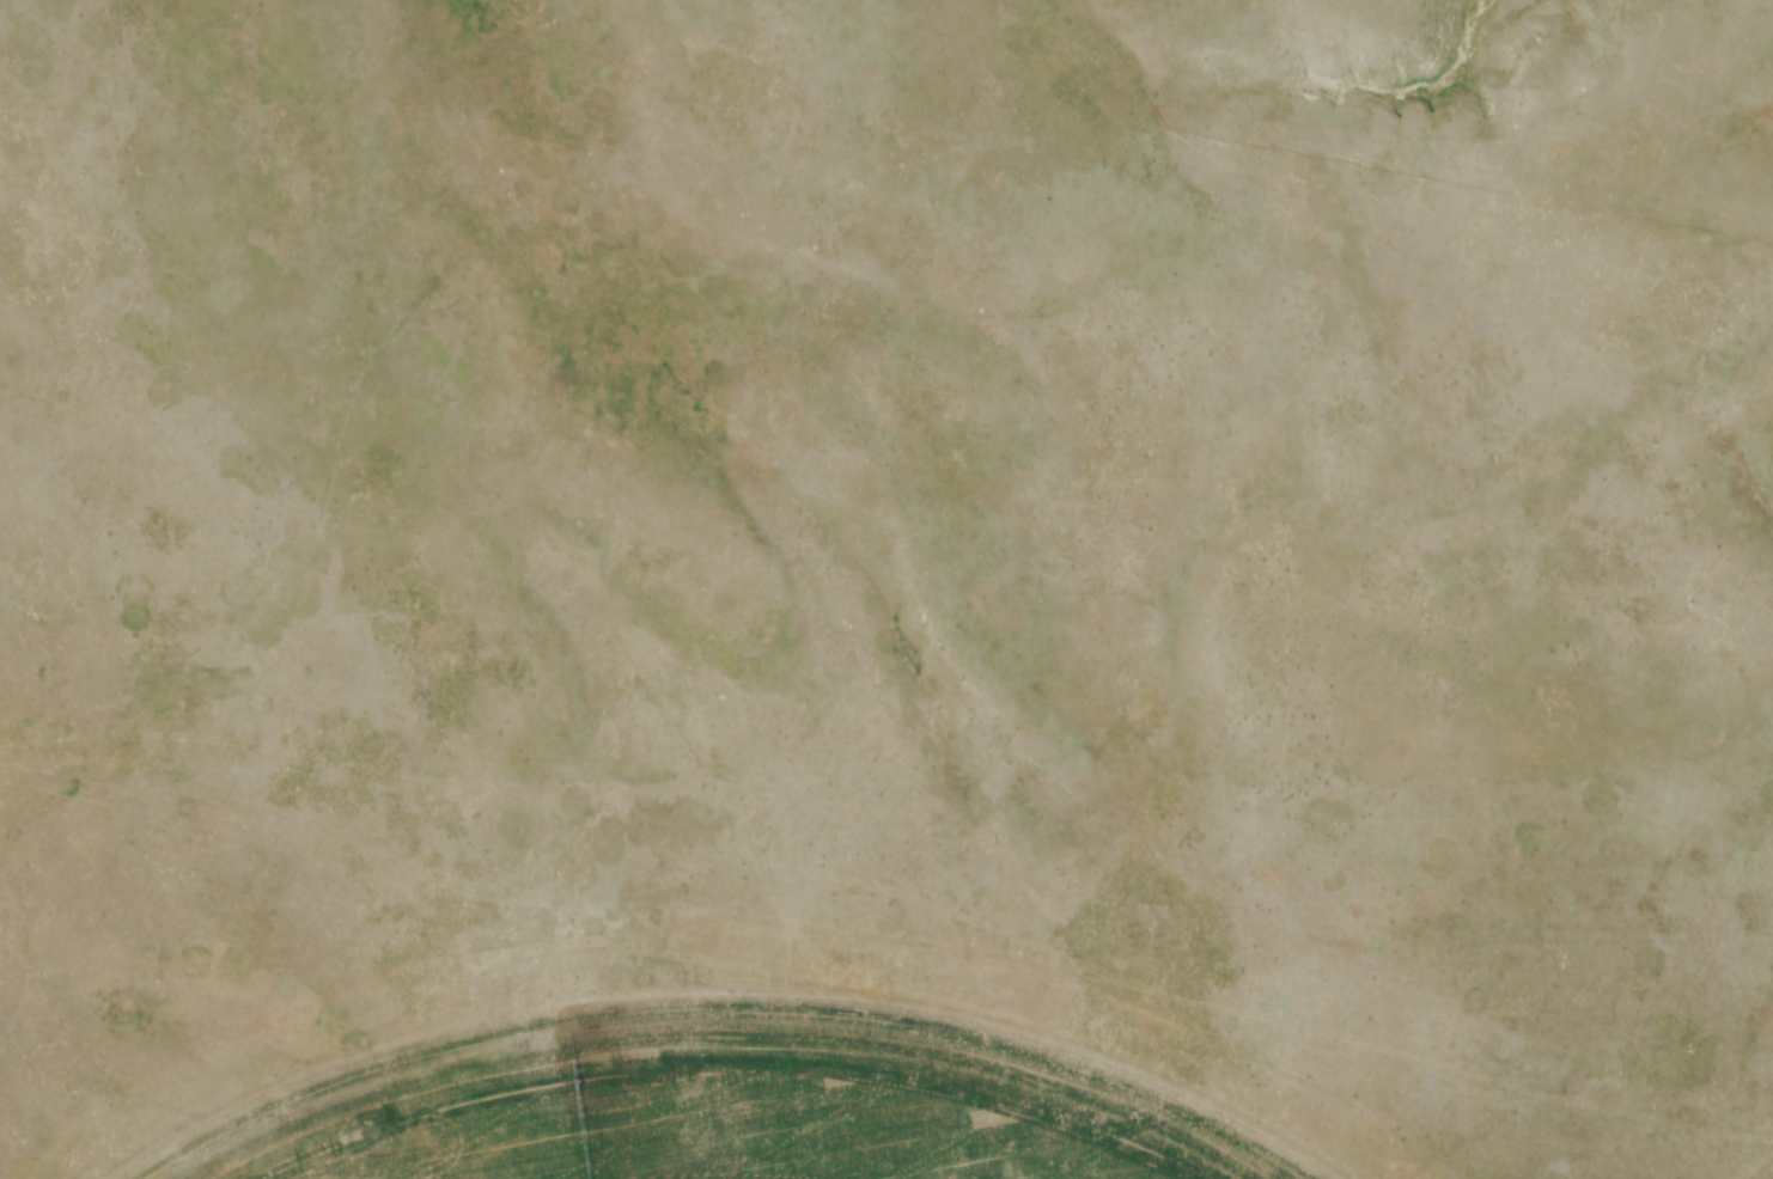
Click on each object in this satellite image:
crop: (715, 1120)

